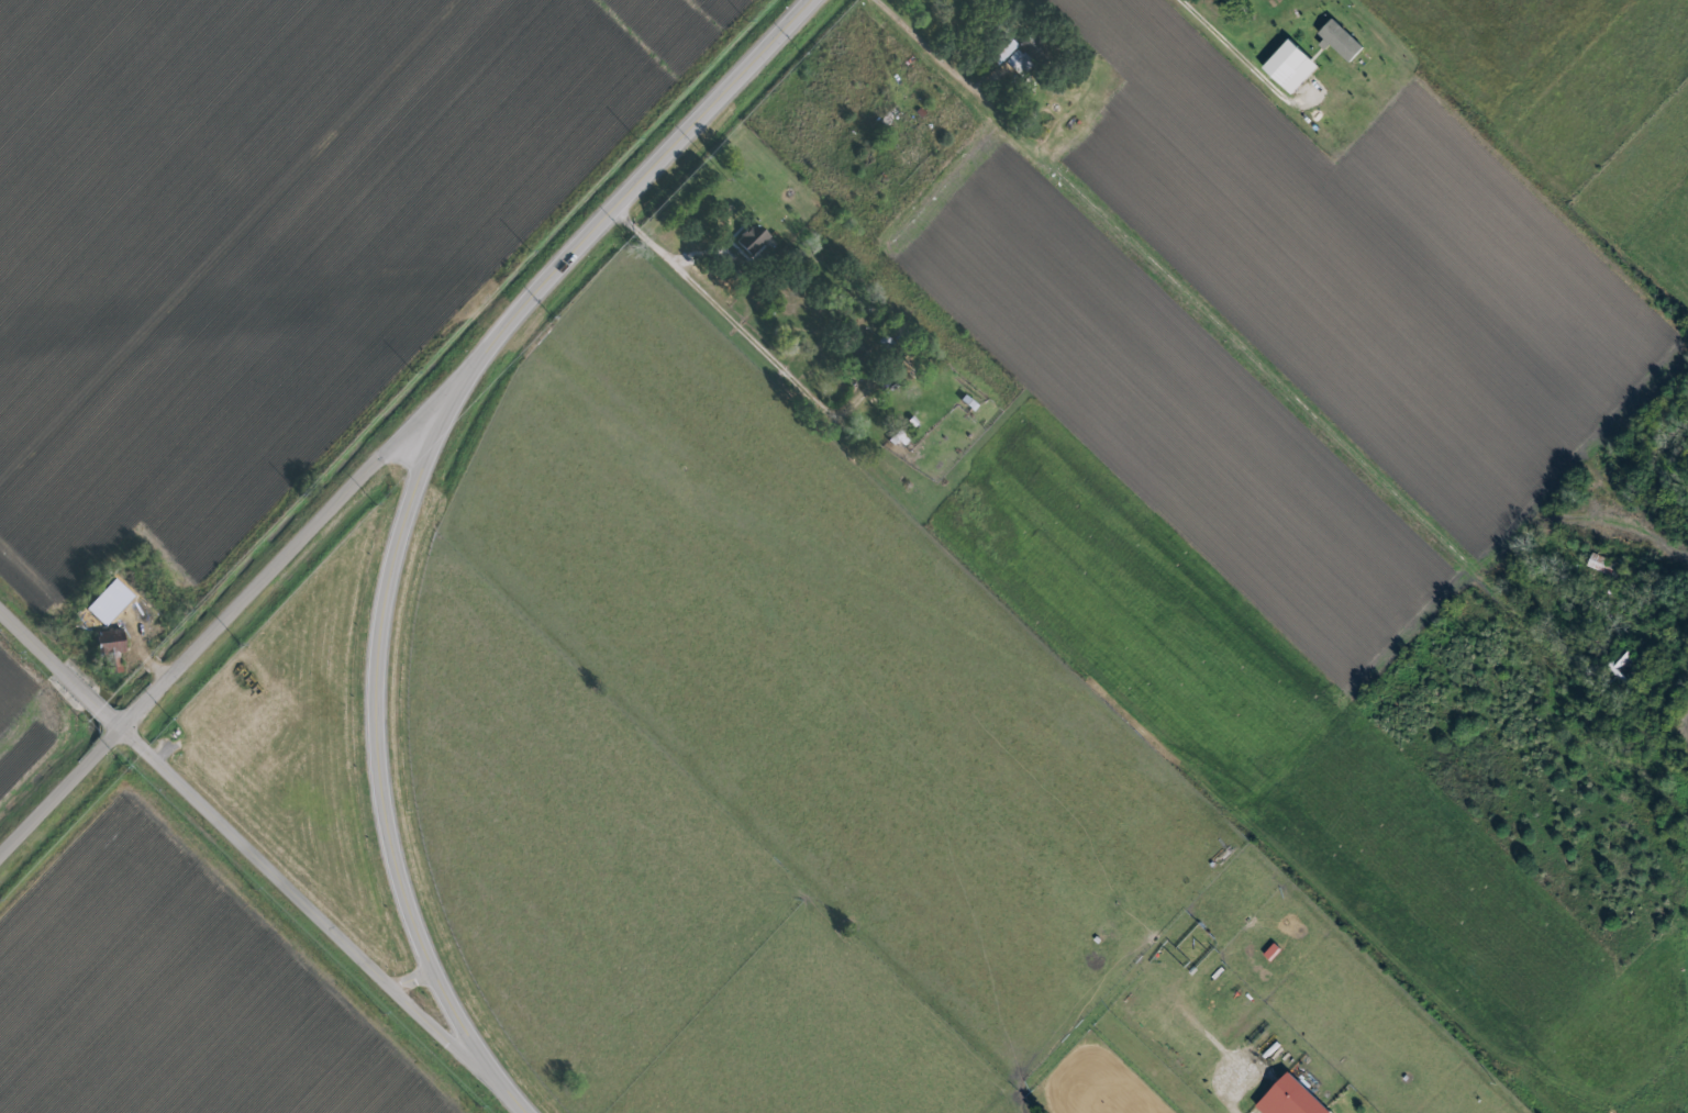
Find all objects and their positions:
building: (1342, 41)
building: (1019, 52)
road: (1229, 53)
building: (1292, 66)
road: (644, 170)
building: (754, 237)
road: (1242, 326)
road: (740, 329)
road: (243, 599)
building: (112, 644)
road: (375, 702)
road: (240, 832)
road: (501, 1089)
building: (1292, 1099)

